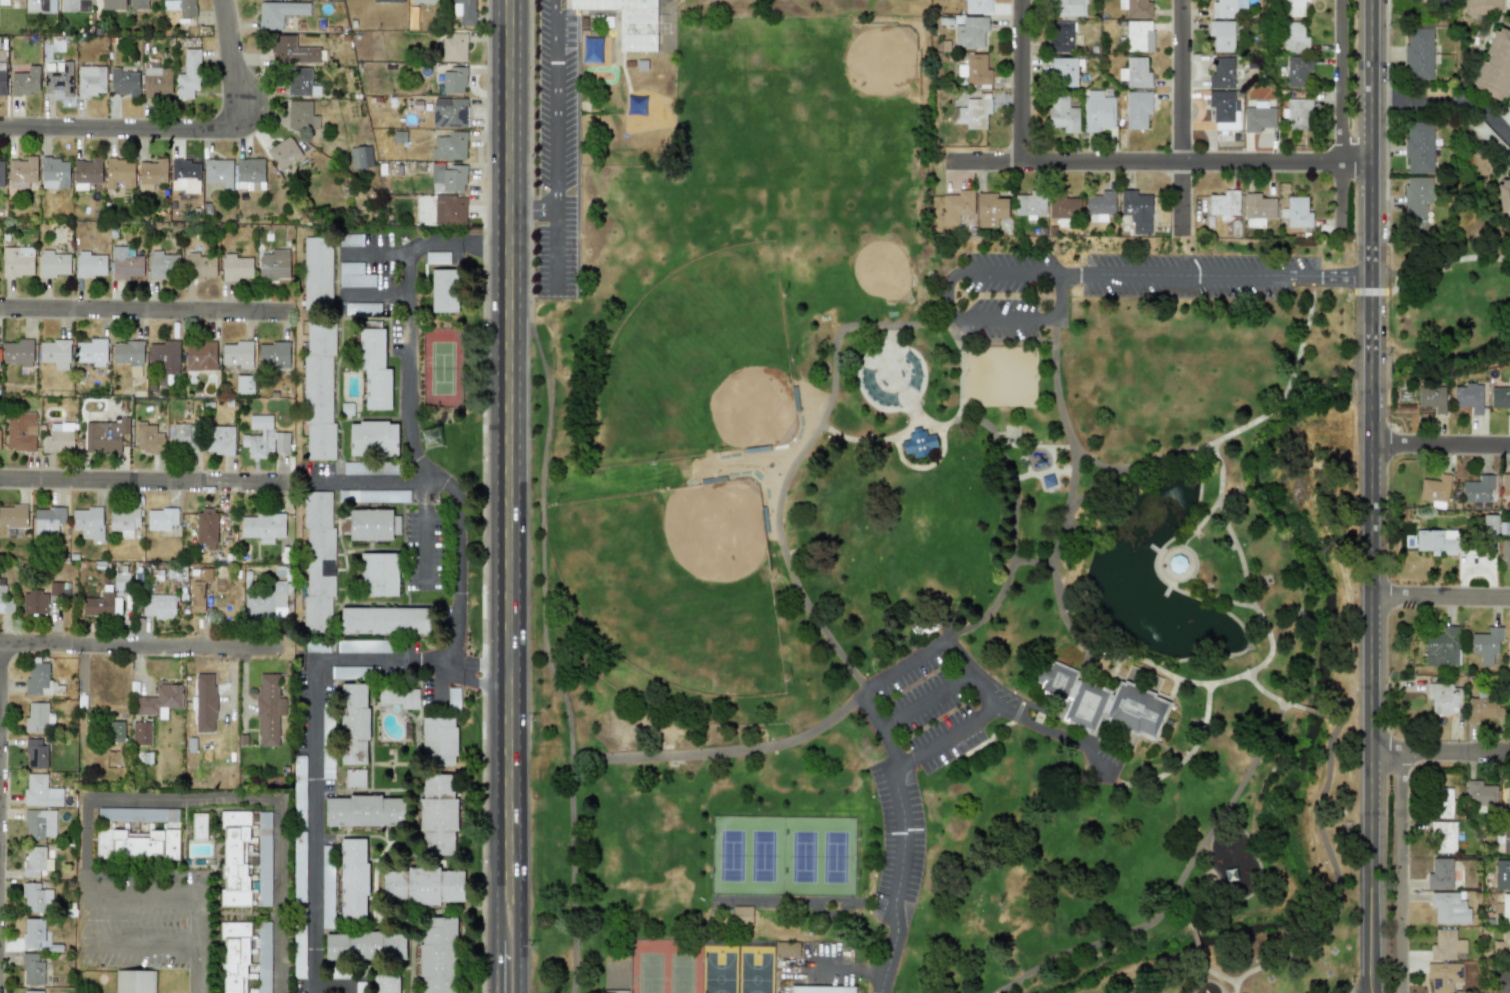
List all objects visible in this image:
building: (388, 0)
building: (424, 1)
building: (3, 2)
building: (138, 4)
building: (68, 5)
building: (112, 5)
building: (978, 6)
building: (1483, 6)
building: (36, 7)
building: (1293, 7)
building: (186, 8)
building: (1067, 8)
building: (1136, 8)
building: (1226, 8)
building: (466, 12)
building: (277, 13)
building: (629, 21)
building: (970, 32)
building: (1222, 35)
building: (1139, 36)
building: (1061, 37)
building: (1295, 38)
building: (454, 47)
building: (291, 50)
building: (1418, 53)
building: (1495, 66)
building: (974, 70)
building: (1298, 70)
road: (233, 71)
building: (1063, 72)
building: (1135, 73)
building: (188, 74)
building: (1222, 74)
building: (59, 80)
building: (90, 80)
building: (453, 80)
building: (25, 82)
building: (124, 82)
building: (156, 82)
building: (298, 82)
road: (1025, 82)
building: (2, 83)
road: (554, 104)
road: (1447, 105)
building: (1138, 109)
building: (973, 110)
building: (1224, 110)
building: (1098, 111)
building: (1297, 113)
building: (298, 114)
building: (449, 114)
road: (1341, 114)
building: (1062, 115)
building: (1258, 117)
road: (1183, 121)
road: (110, 126)
building: (1487, 136)
building: (449, 146)
building: (1419, 147)
building: (282, 153)
building: (360, 157)
road: (1159, 162)
building: (23, 170)
building: (248, 170)
building: (86, 171)
building: (152, 172)
building: (217, 172)
building: (1, 173)
building: (54, 173)
building: (118, 173)
building: (183, 176)
building: (448, 179)
road: (1370, 181)
building: (1503, 197)
building: (1417, 201)
building: (1030, 203)
building: (1224, 204)
building: (956, 207)
building: (1063, 207)
road: (532, 209)
building: (990, 209)
building: (449, 210)
building: (1137, 210)
building: (1257, 210)
building: (1297, 213)
building: (350, 239)
road: (553, 248)
road: (373, 252)
building: (437, 257)
road: (1439, 260)
building: (17, 261)
building: (52, 263)
building: (125, 263)
building: (90, 264)
building: (162, 264)
building: (200, 265)
building: (273, 265)
building: (236, 267)
building: (317, 272)
building: (354, 275)
road: (1073, 278)
parking lot: (1106, 285)
building: (443, 290)
road: (373, 295)
park: (1449, 305)
building: (362, 308)
road: (151, 315)
building: (91, 351)
building: (18, 352)
building: (55, 353)
building: (237, 354)
building: (128, 355)
building: (273, 355)
building: (199, 356)
building: (164, 358)
park: (698, 367)
building: (374, 371)
road: (962, 378)
building: (244, 384)
road: (1369, 384)
building: (318, 390)
building: (1469, 397)
building: (1431, 398)
building: (1500, 398)
road: (409, 413)
building: (20, 431)
building: (104, 436)
building: (184, 436)
road: (510, 436)
building: (58, 438)
building: (148, 438)
building: (263, 438)
building: (372, 438)
power tower: (430, 439)
building: (219, 440)
building: (919, 442)
road: (1439, 443)
road: (1008, 460)
road: (1099, 464)
road: (923, 467)
building: (370, 468)
road: (1134, 471)
road: (1041, 475)
road: (375, 481)
road: (144, 482)
building: (1505, 485)
building: (1478, 489)
building: (1435, 490)
building: (372, 495)
building: (13, 517)
building: (162, 518)
building: (48, 520)
building: (123, 521)
building: (87, 523)
building: (372, 524)
road: (1201, 525)
building: (262, 526)
building: (206, 527)
road: (423, 532)
building: (1438, 541)
building: (1505, 554)
road: (785, 559)
road: (1035, 559)
building: (318, 561)
park: (927, 572)
building: (378, 574)
road: (1178, 580)
building: (121, 581)
park: (677, 585)
building: (55, 588)
building: (197, 596)
road: (1439, 596)
road: (1218, 598)
building: (6, 599)
building: (267, 601)
building: (34, 602)
building: (102, 603)
building: (158, 606)
building: (384, 620)
building: (356, 645)
building: (1486, 645)
road: (140, 646)
building: (317, 647)
building: (1443, 647)
road: (545, 651)
building: (1508, 653)
building: (345, 672)
building: (37, 678)
road: (435, 681)
road: (1220, 684)
road: (866, 690)
building: (399, 696)
road: (1269, 698)
building: (1445, 699)
building: (159, 700)
building: (1107, 700)
road: (1369, 700)
road: (923, 702)
building: (205, 703)
building: (268, 709)
building: (1485, 711)
building: (1509, 712)
road: (1307, 713)
building: (38, 717)
building: (353, 722)
road: (314, 729)
building: (116, 730)
building: (140, 733)
building: (327, 740)
road: (946, 740)
building: (438, 741)
parking lot: (949, 746)
road: (1439, 751)
building: (35, 753)
road: (1184, 761)
building: (354, 777)
building: (40, 791)
building: (1481, 793)
road: (240, 797)
building: (1442, 802)
building: (1508, 804)
building: (364, 811)
building: (137, 814)
building: (437, 815)
building: (39, 824)
building: (199, 826)
building: (299, 827)
building: (1443, 836)
building: (1506, 840)
building: (136, 843)
park: (643, 853)
park: (783, 858)
building: (35, 861)
road: (1332, 866)
road: (1402, 872)
building: (1442, 874)
building: (1502, 874)
building: (353, 878)
building: (326, 881)
road: (83, 882)
building: (422, 885)
road: (1178, 888)
building: (34, 897)
building: (1448, 908)
building: (1505, 909)
building: (741, 914)
road: (1184, 915)
road: (500, 931)
road: (520, 931)
building: (32, 933)
building: (299, 944)
road: (1195, 944)
building: (365, 945)
building: (1446, 945)
building: (1502, 947)
building: (786, 949)
building: (437, 954)
building: (245, 957)
park: (703, 967)
building: (32, 968)
road: (199, 972)
road: (1214, 976)
building: (1443, 976)
building: (1502, 979)
building: (134, 981)
road: (334, 983)
building: (385, 983)
building: (360, 988)
building: (820, 989)
building: (32, 991)

